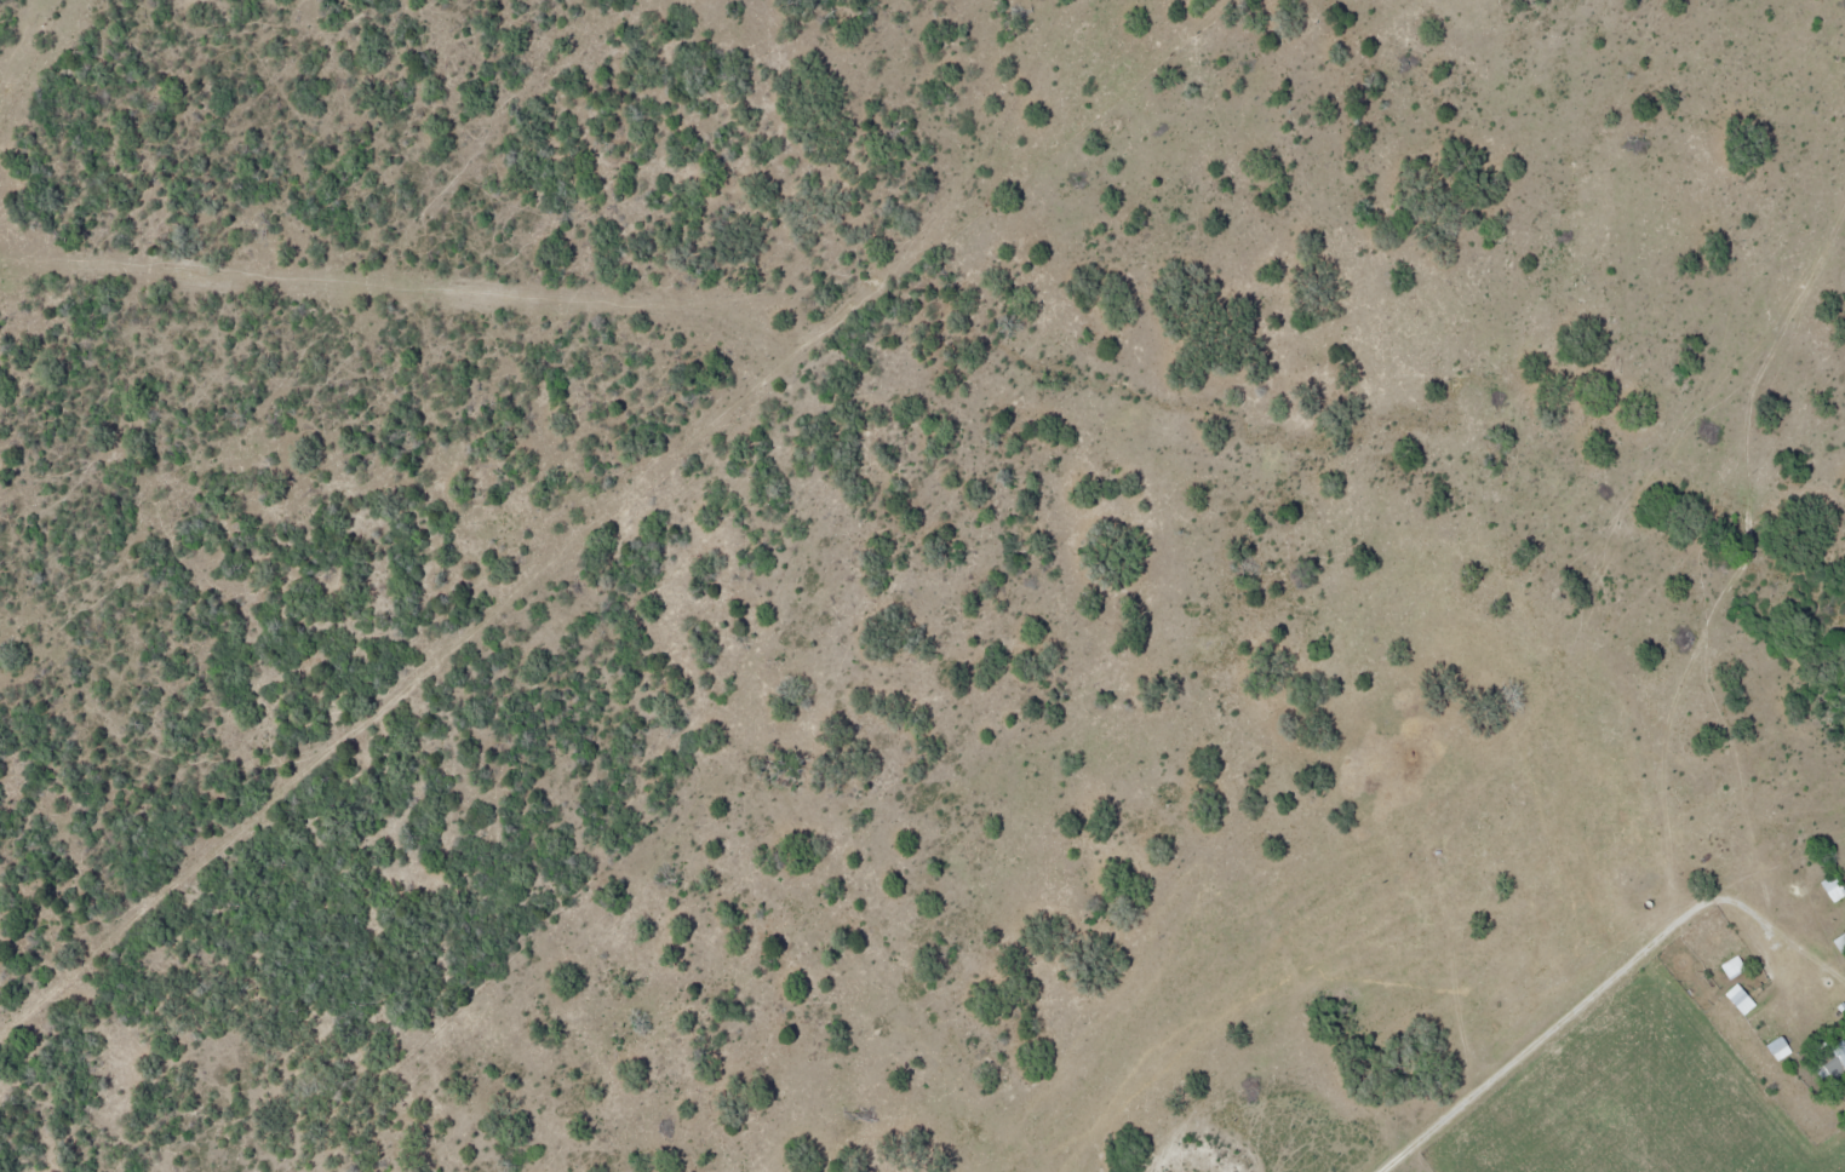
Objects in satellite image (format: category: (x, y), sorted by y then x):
building: (1830, 887)
building: (1838, 940)
building: (1844, 961)
building: (1730, 966)
building: (1736, 999)
road: (1574, 1006)
building: (1830, 1059)

